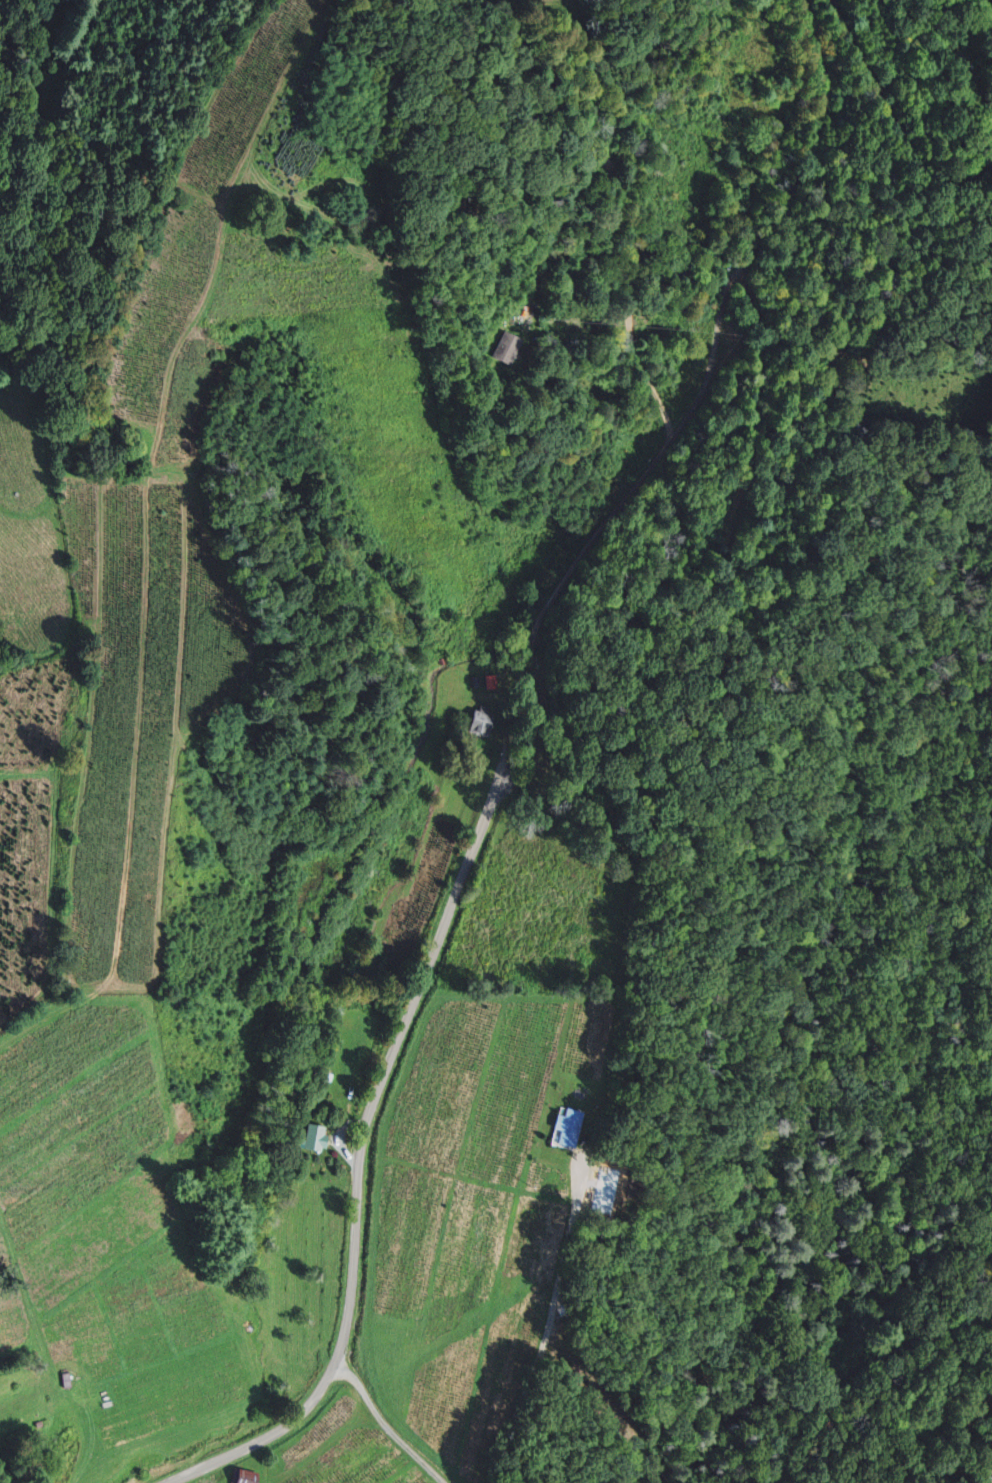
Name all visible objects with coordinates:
road: (989, 4)
road: (893, 120)
road: (609, 218)
building: (510, 348)
road: (695, 408)
building: (476, 720)
building: (564, 1128)
building: (305, 1138)
road: (375, 1176)
road: (858, 1369)
building: (72, 1380)
building: (237, 1477)

